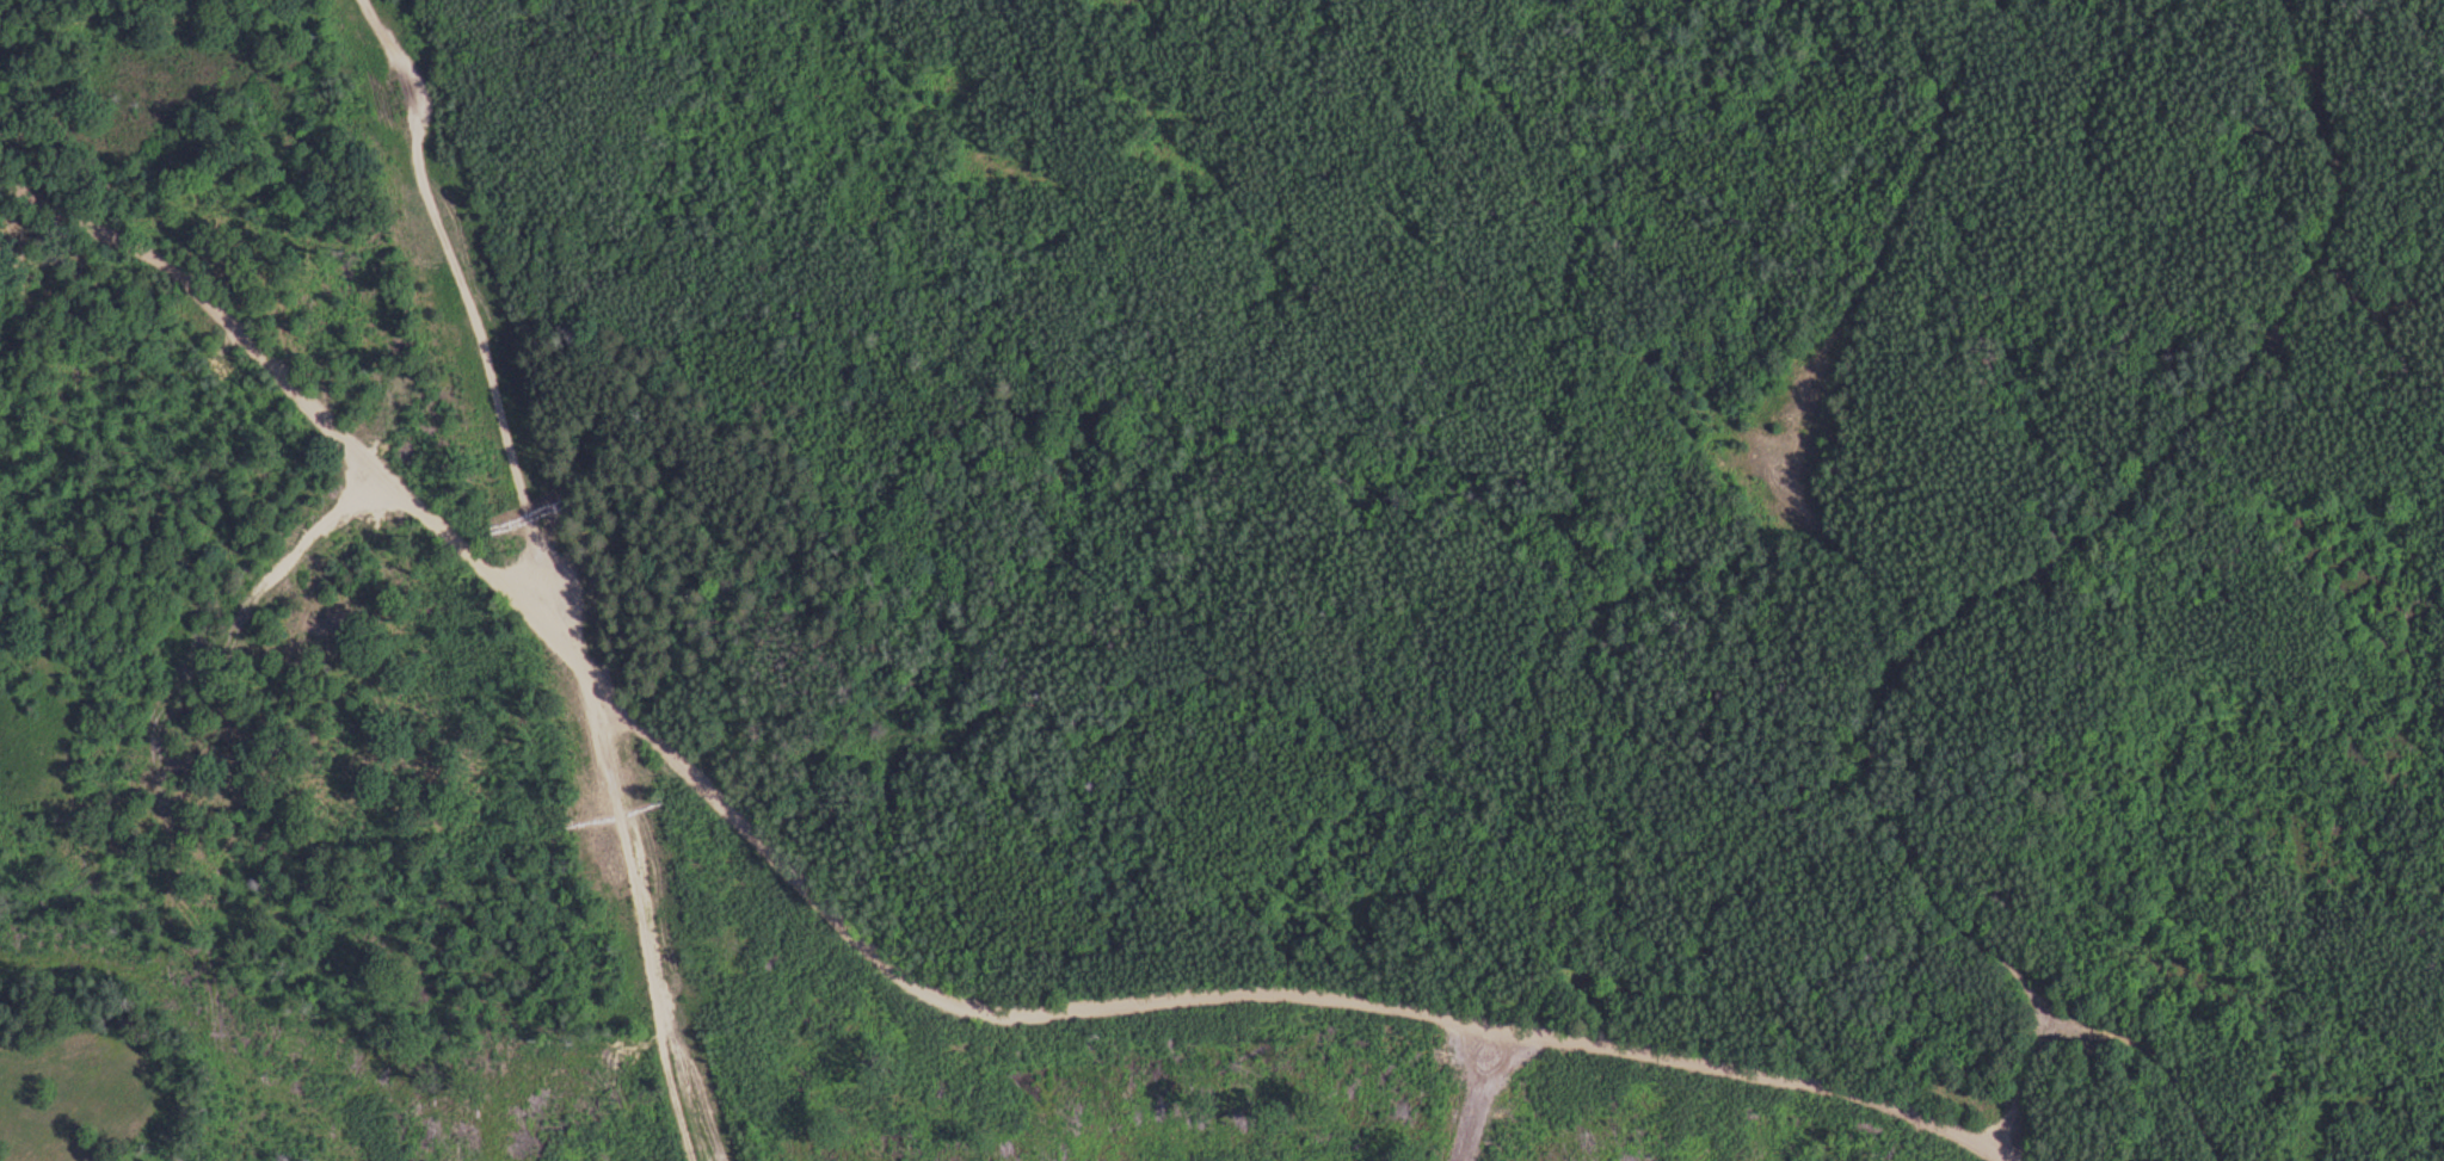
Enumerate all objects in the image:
road: (480, 327)
road: (2024, 583)
road: (627, 908)
road: (872, 952)

